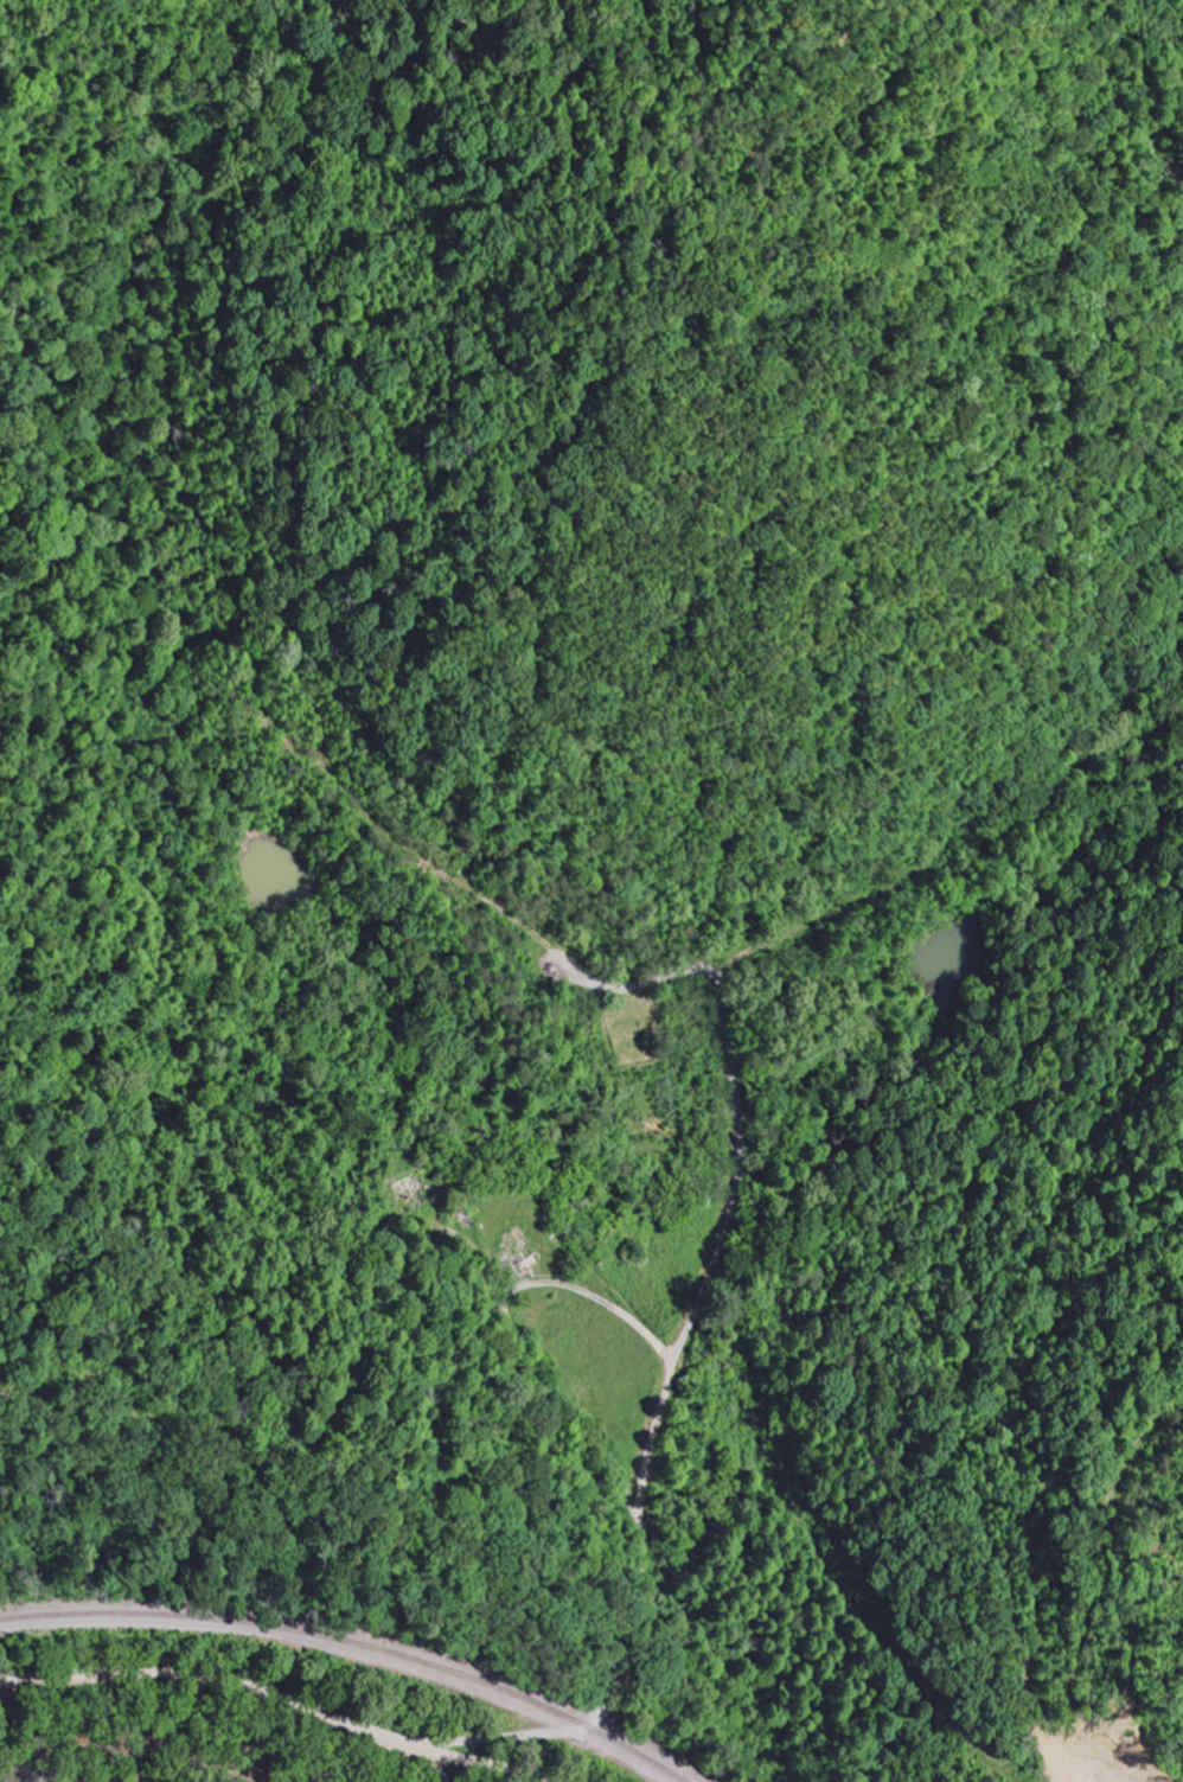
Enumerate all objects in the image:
road: (639, 1545)
railway: (356, 1643)
road: (282, 1695)

